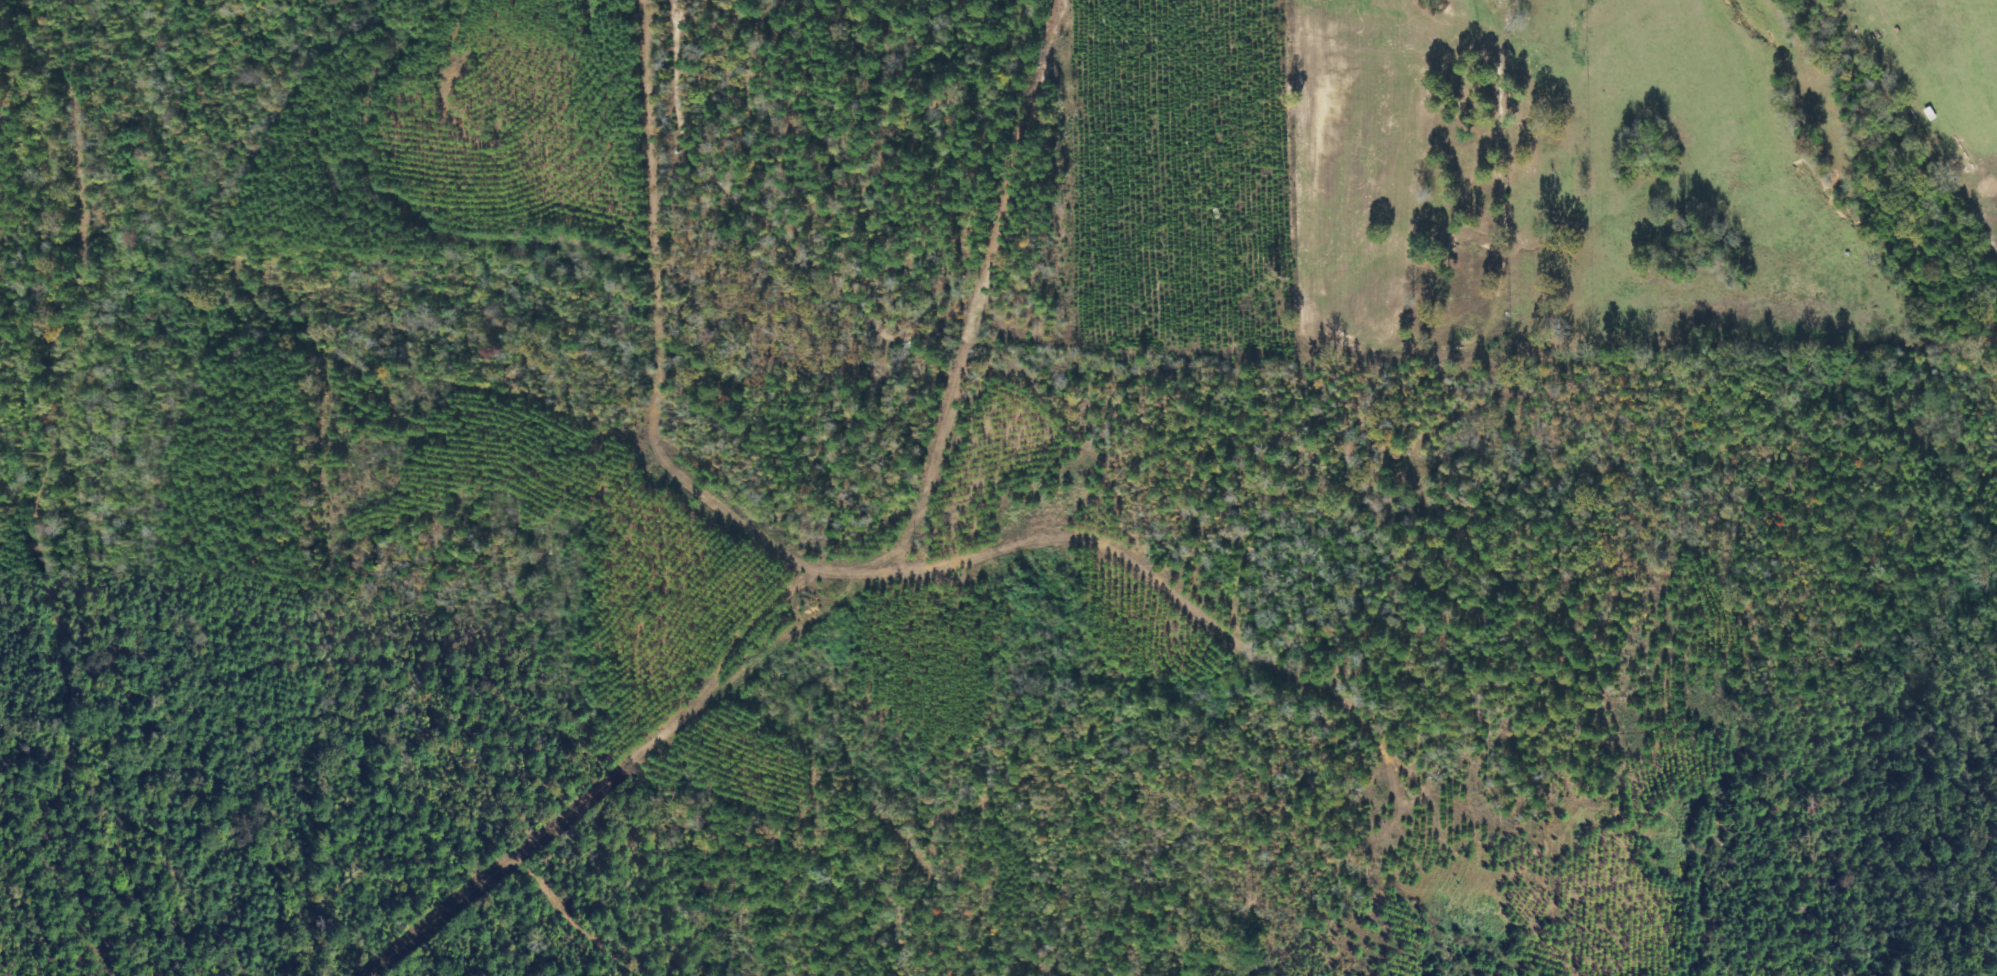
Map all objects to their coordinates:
road: (606, 480)
road: (73, 493)

